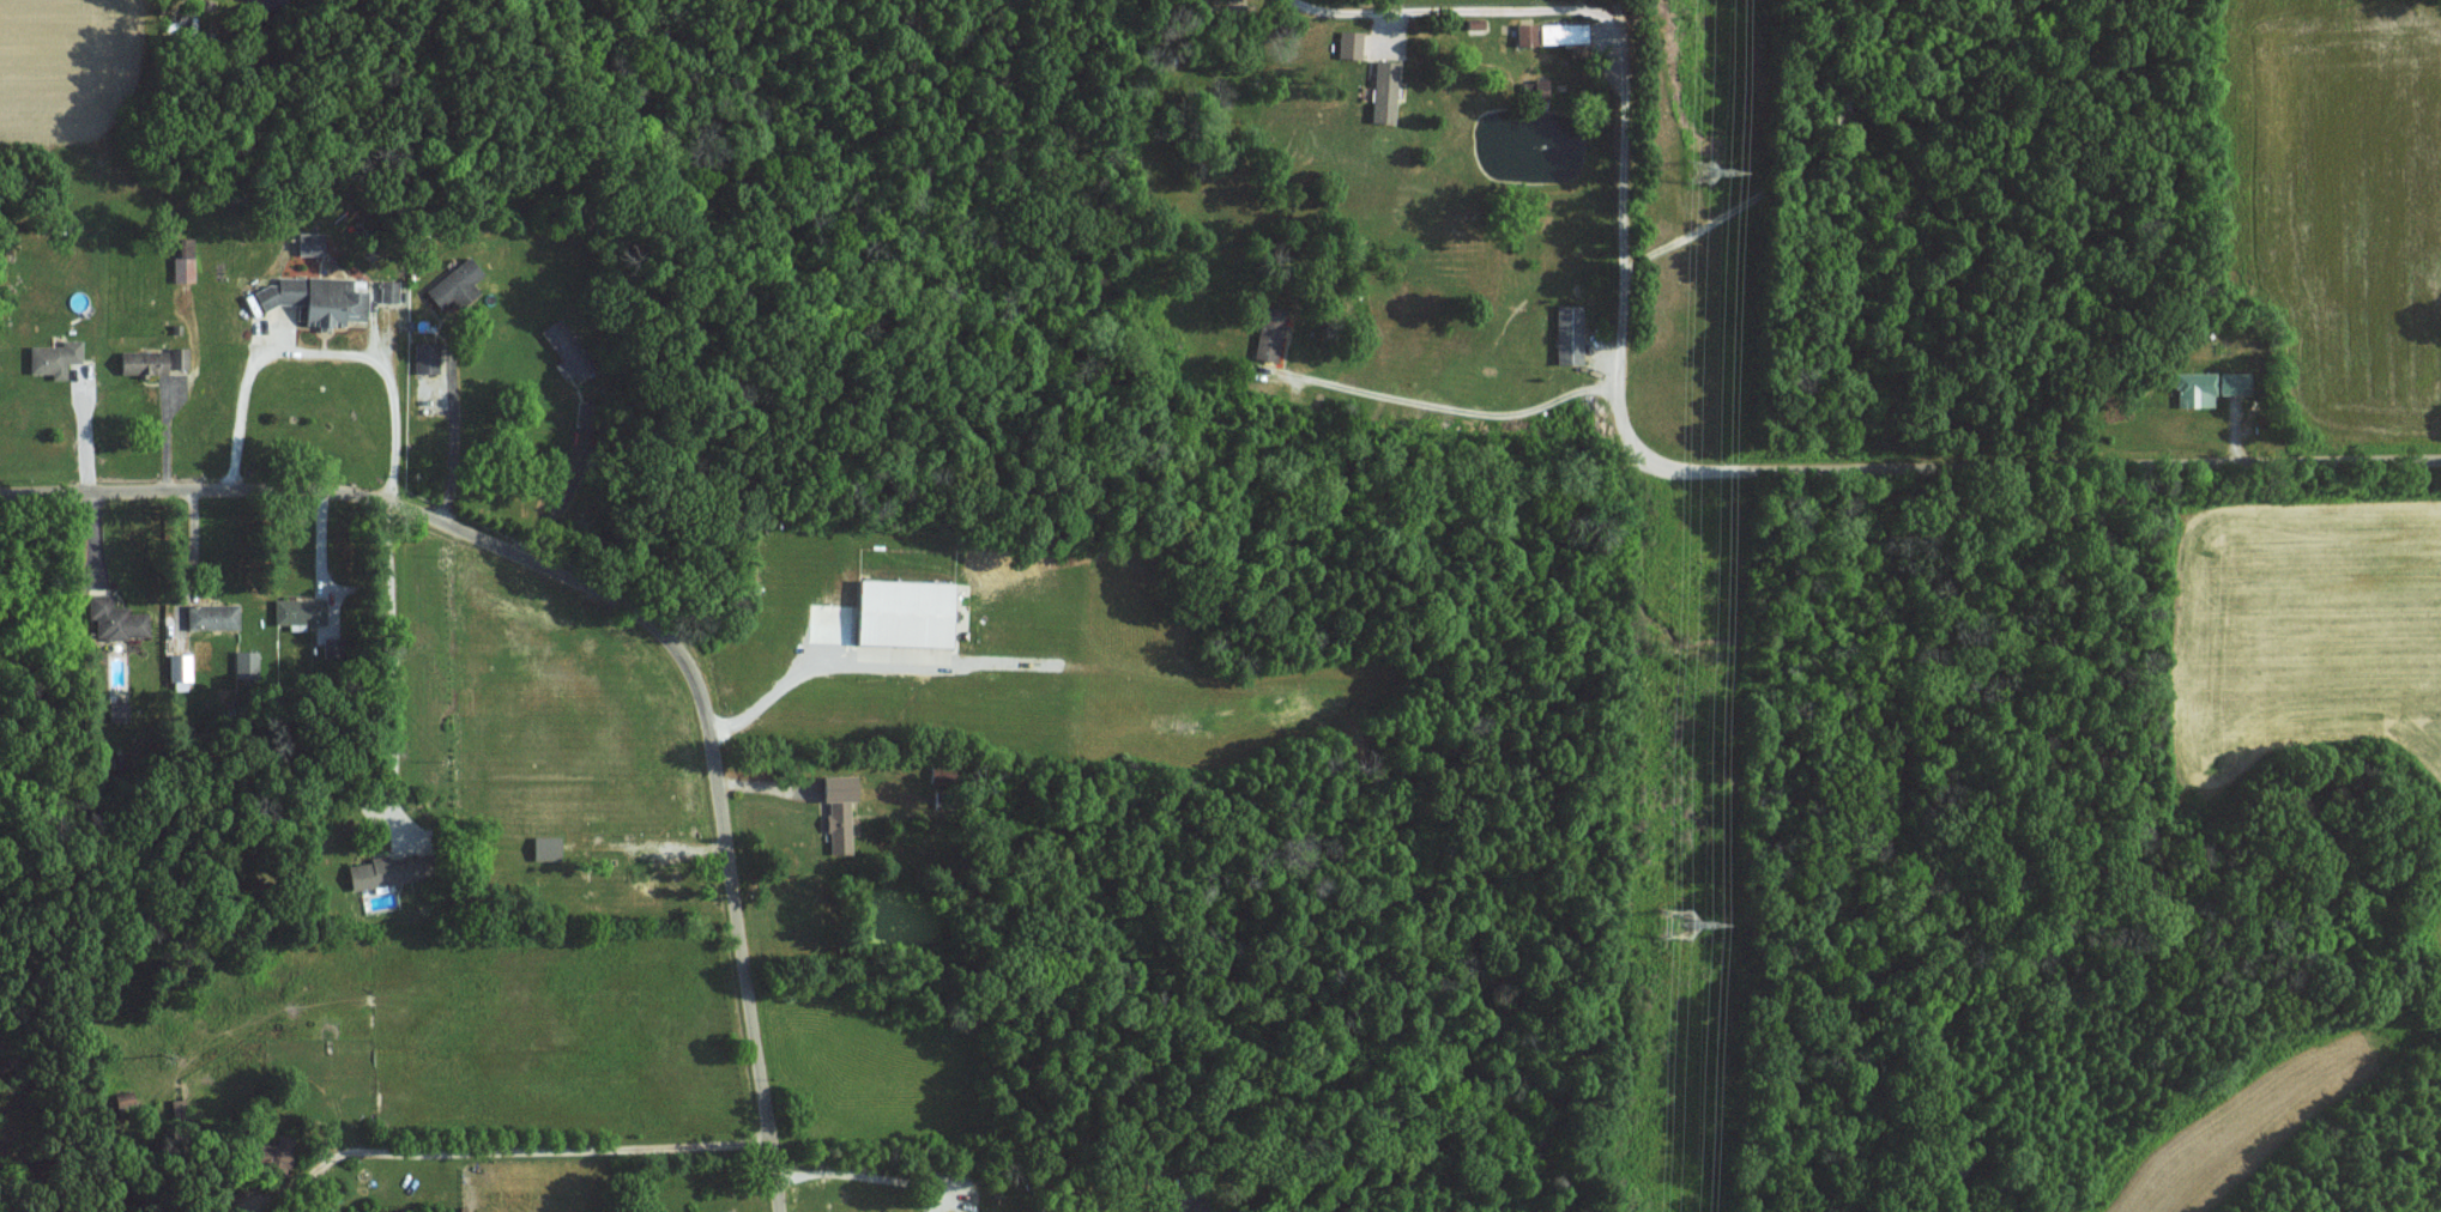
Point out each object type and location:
building: (1561, 34)
building: (1525, 35)
building: (1348, 44)
road: (1612, 68)
building: (1534, 90)
building: (1383, 91)
power tower: (1702, 171)
building: (182, 261)
building: (453, 284)
building: (387, 290)
building: (314, 298)
building: (1268, 332)
building: (1567, 333)
building: (566, 350)
road: (322, 351)
building: (176, 356)
building: (424, 356)
building: (53, 357)
building: (141, 360)
building: (2234, 382)
building: (2194, 388)
road: (1463, 405)
road: (84, 430)
road: (451, 444)
road: (2024, 453)
road: (627, 600)
building: (298, 610)
building: (902, 611)
building: (210, 614)
building: (114, 617)
road: (397, 657)
building: (244, 663)
building: (177, 666)
building: (116, 710)
building: (836, 811)
building: (544, 847)
building: (382, 871)
power tower: (1678, 927)
building: (177, 1108)
road: (871, 1162)

